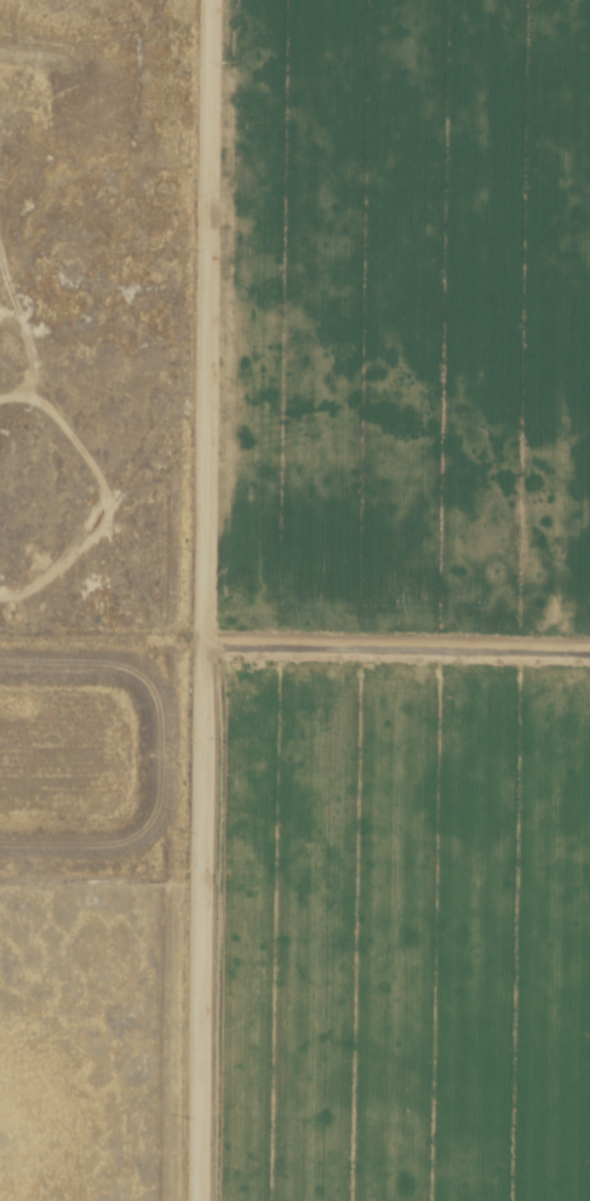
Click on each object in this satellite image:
crop: (391, 602)

